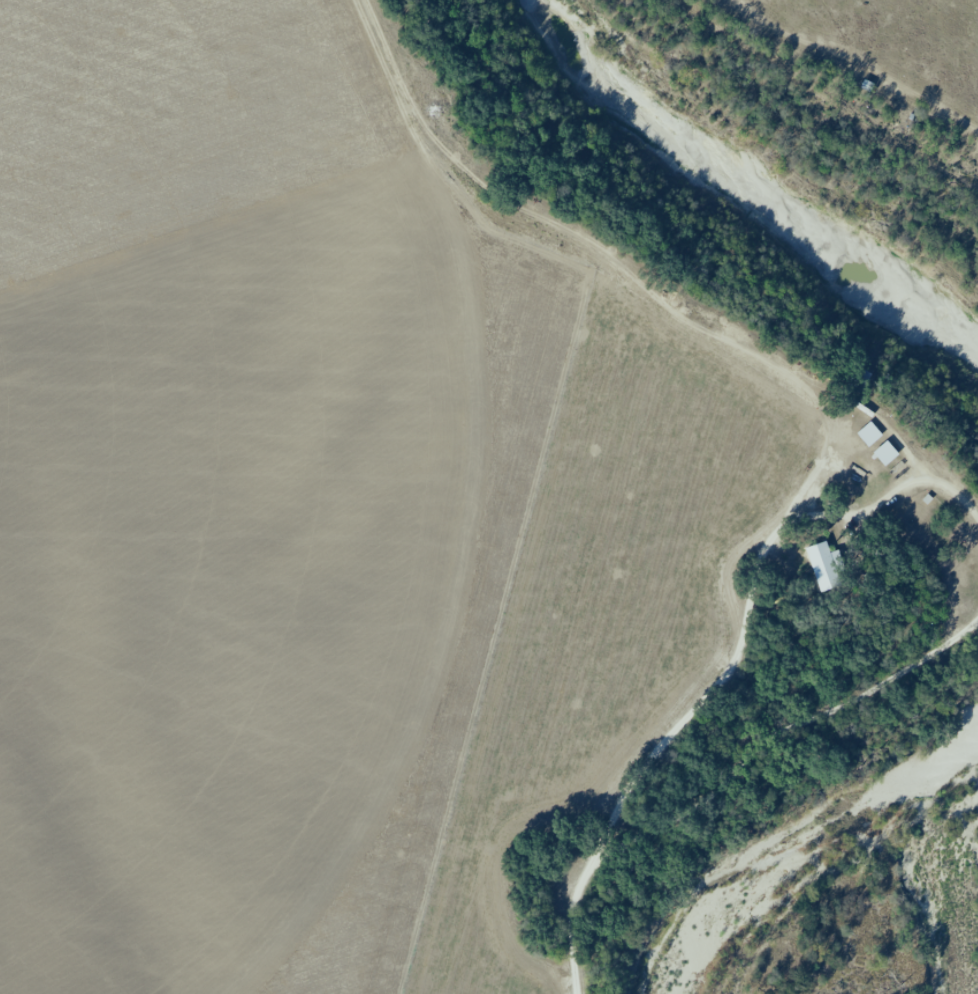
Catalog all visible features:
road: (797, 337)
road: (797, 464)
building: (829, 566)
road: (740, 884)
road: (894, 909)

